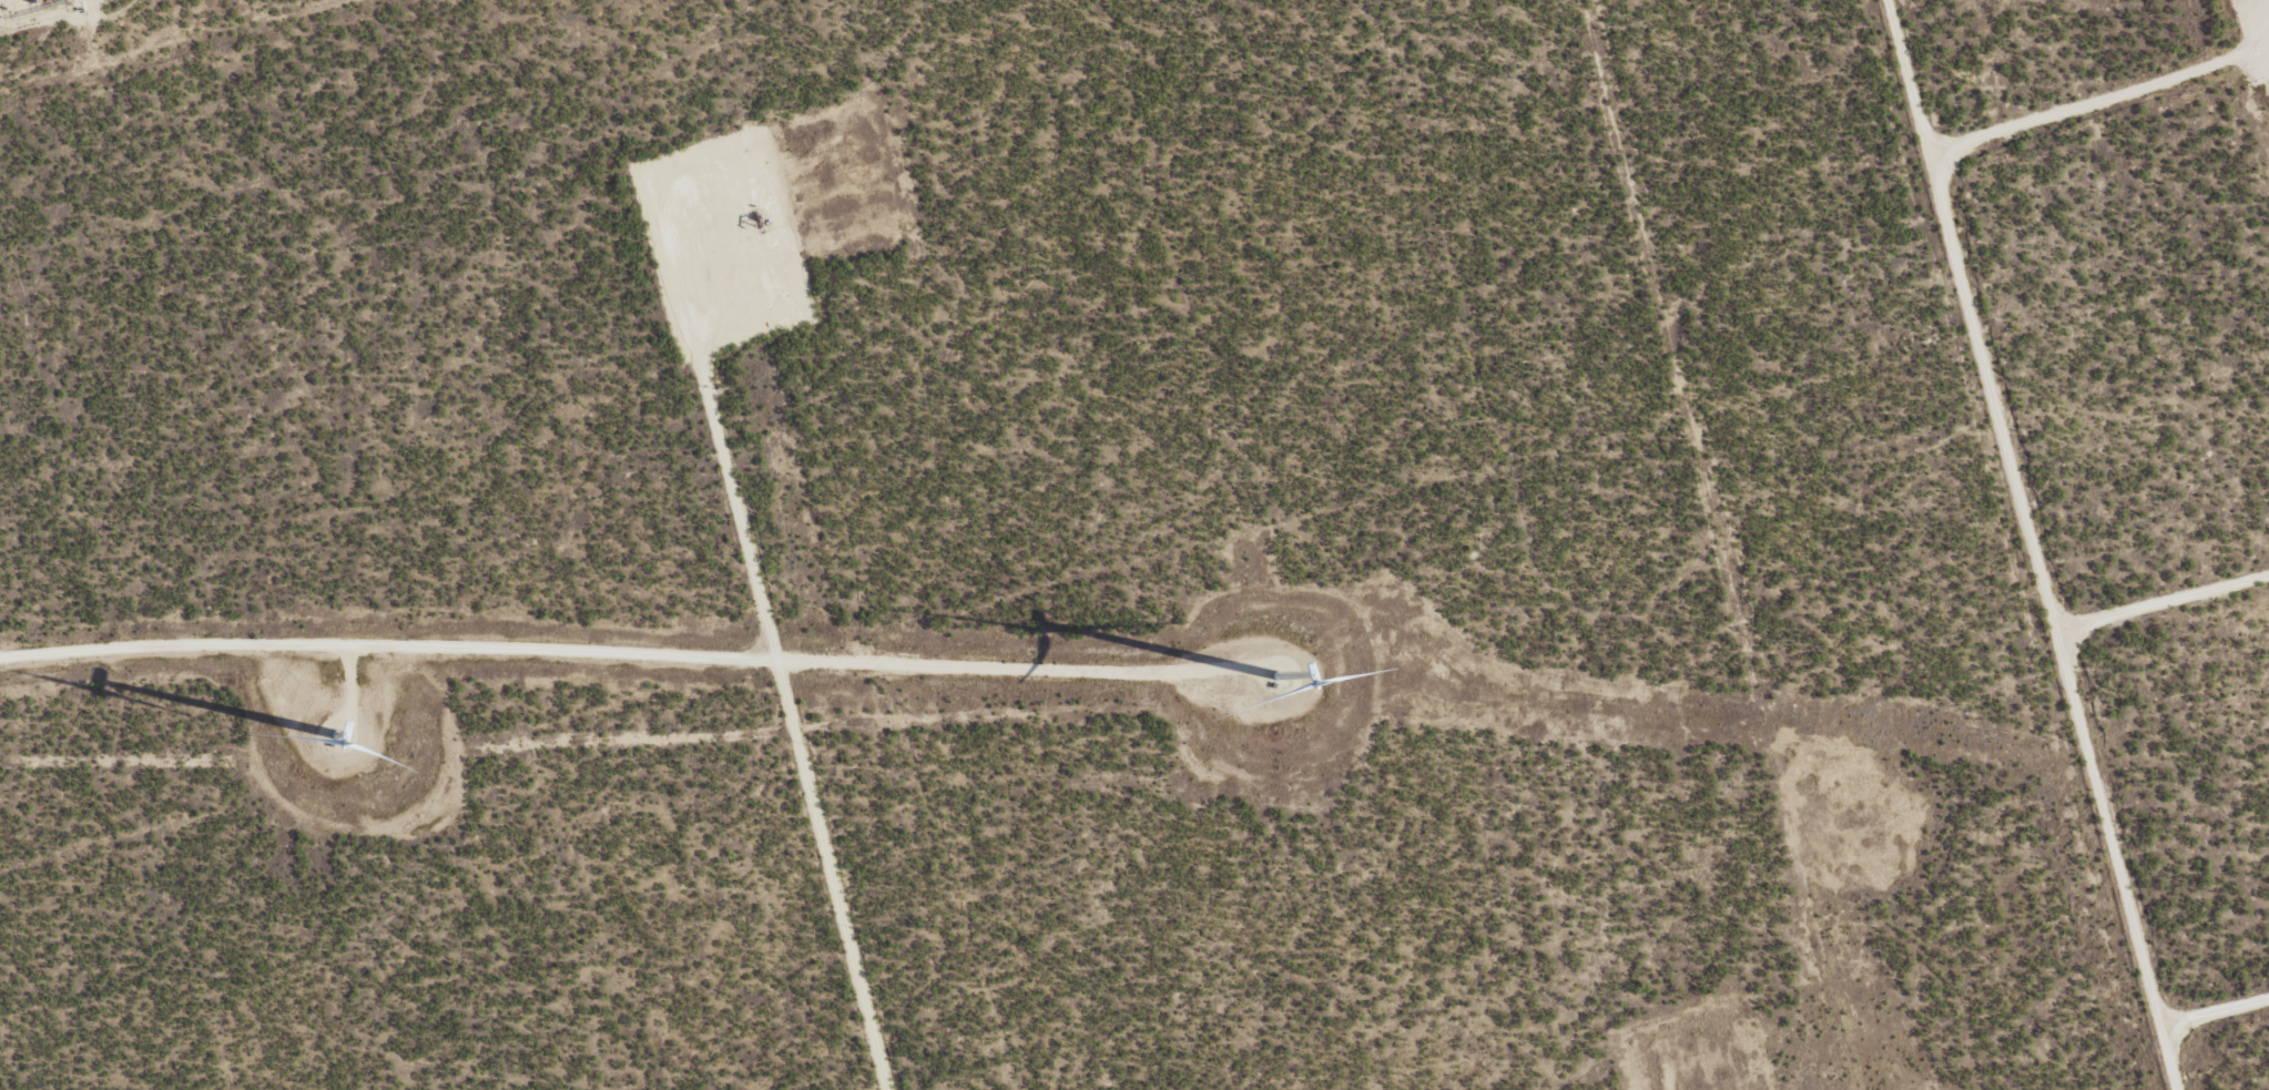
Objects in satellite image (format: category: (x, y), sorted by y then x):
road: (2099, 103)
road: (2035, 543)
road: (2164, 603)
wind turbine: (1275, 682)
wind turbine: (338, 738)
road: (2215, 1013)

